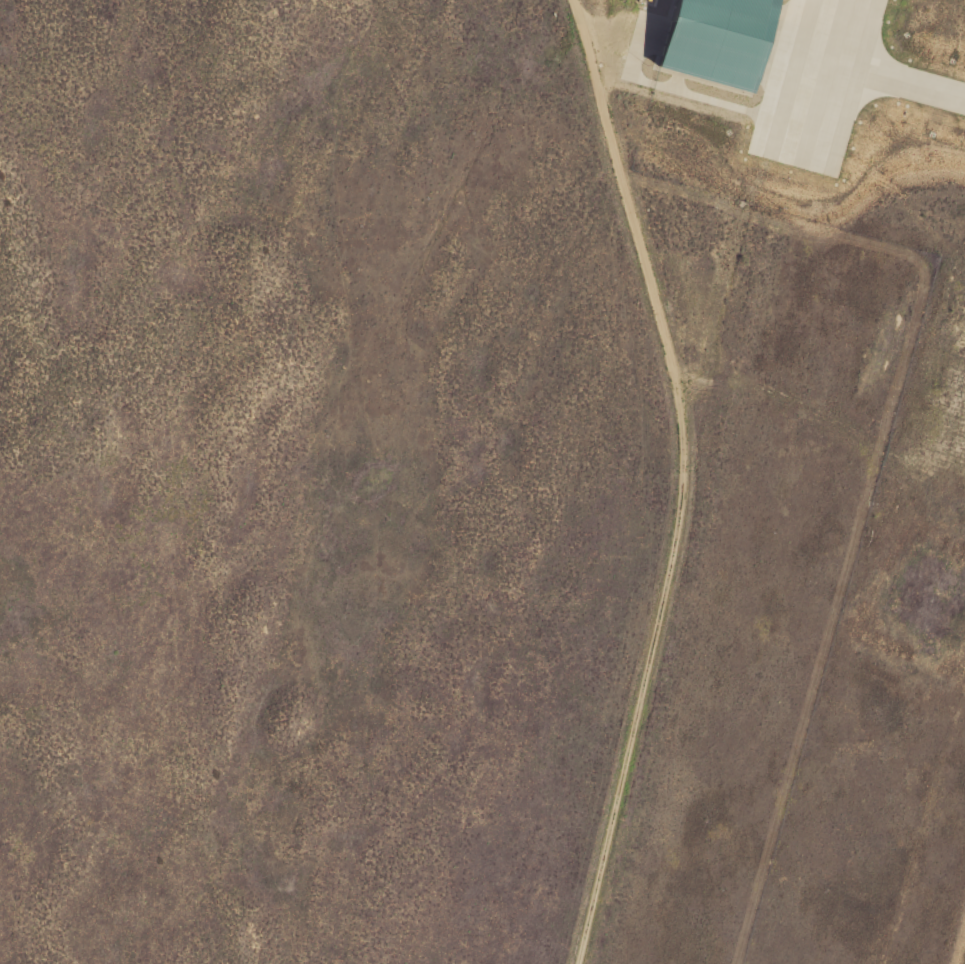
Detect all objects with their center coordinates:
building: (713, 41)
airport taxiway: (870, 75)
airport apron: (815, 83)

